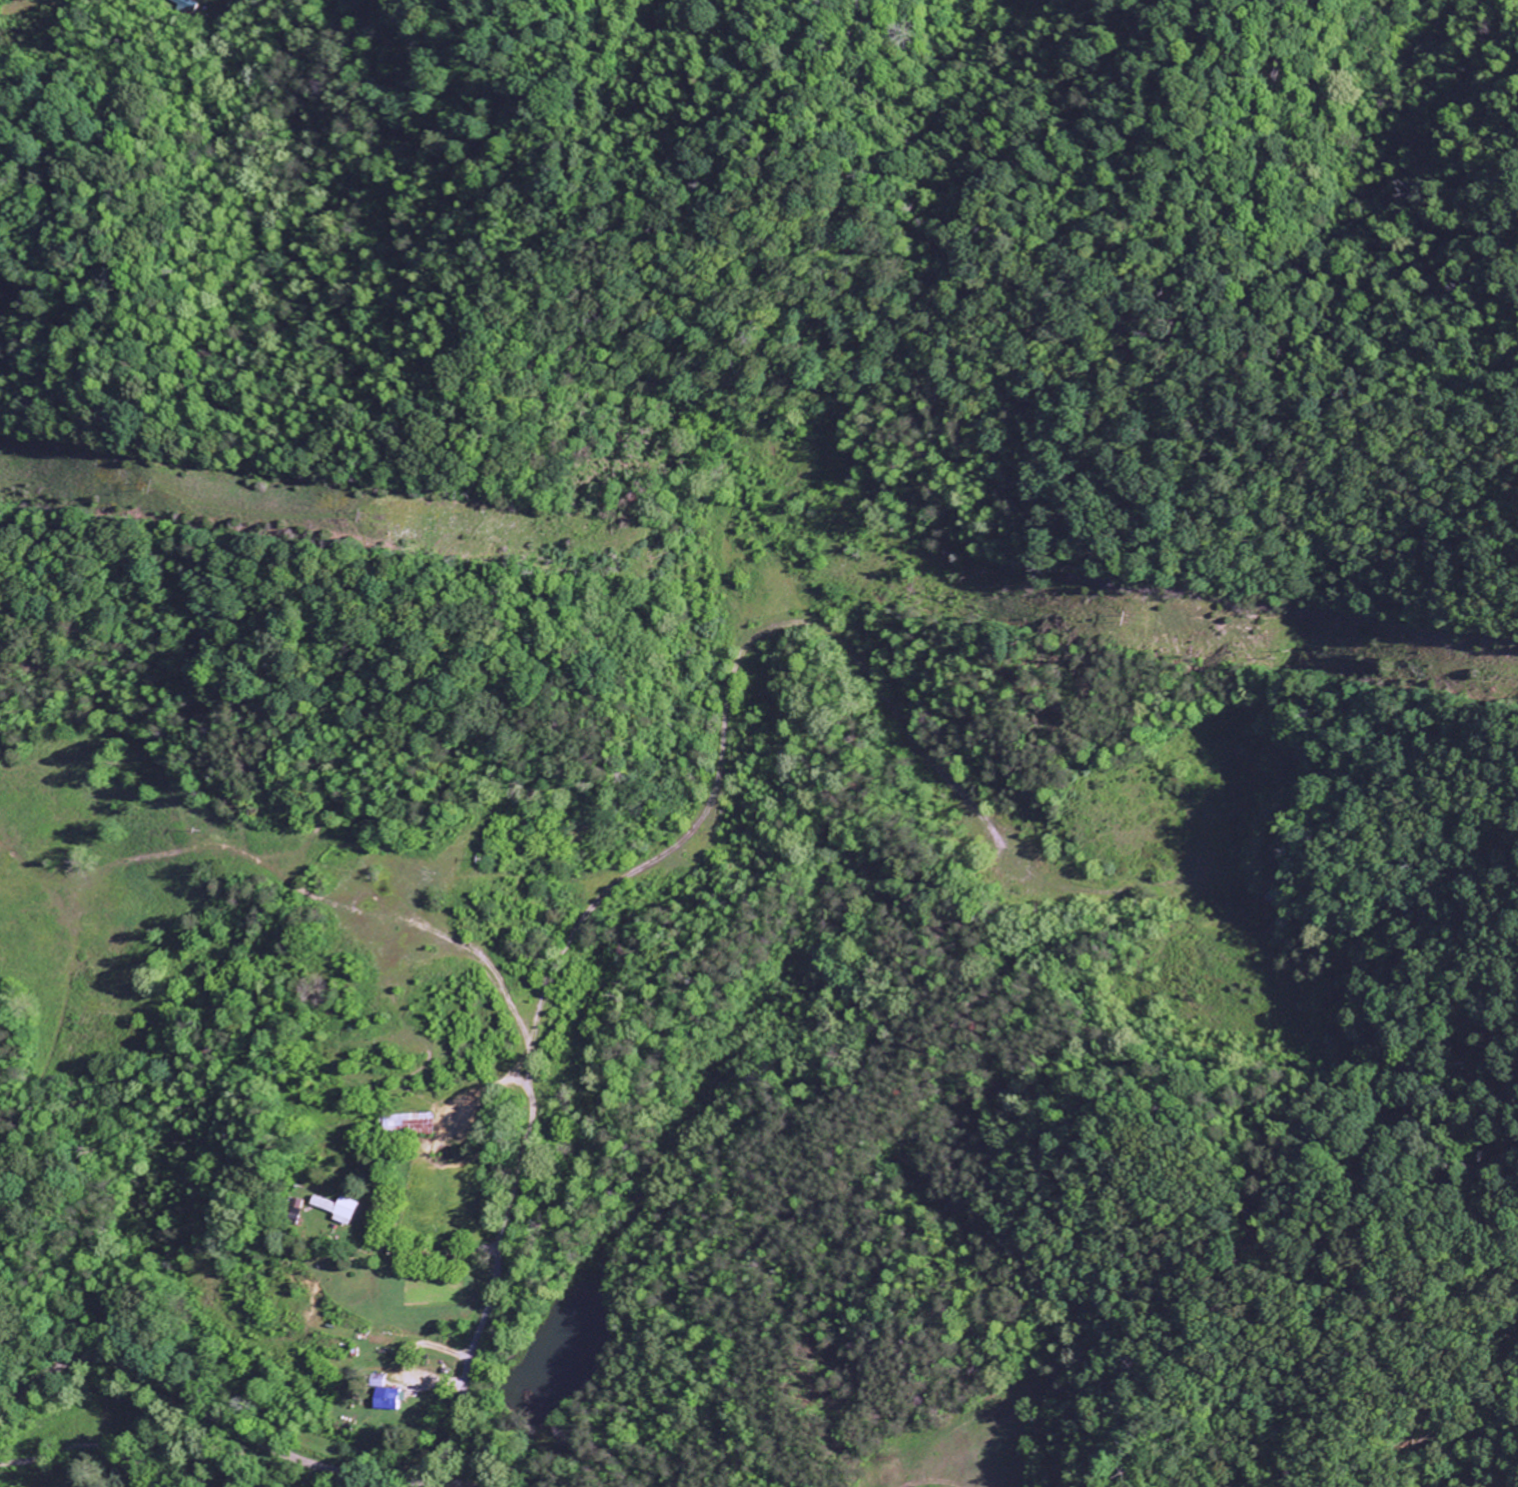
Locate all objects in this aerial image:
road: (645, 866)
building: (408, 1123)
road: (20, 1396)
building: (394, 1398)
road: (207, 1417)

